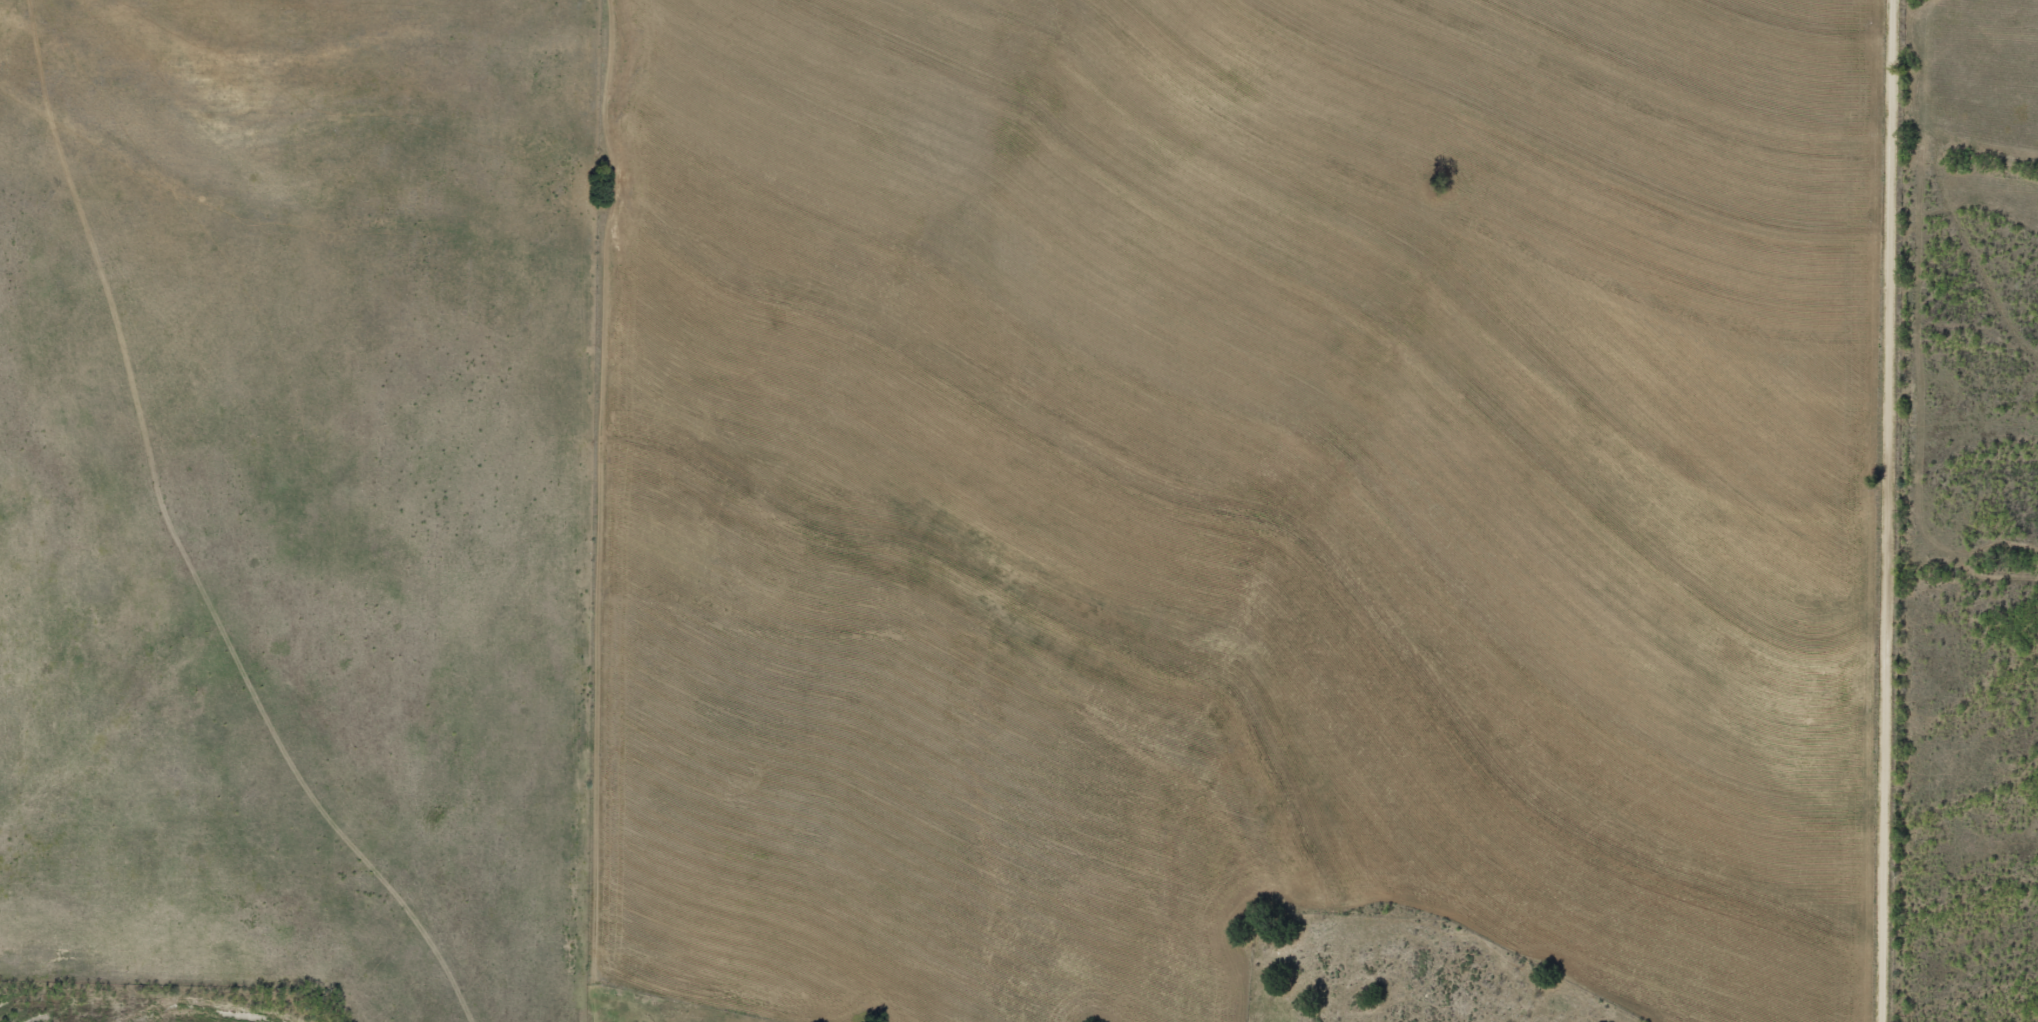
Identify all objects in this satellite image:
road: (1891, 511)

